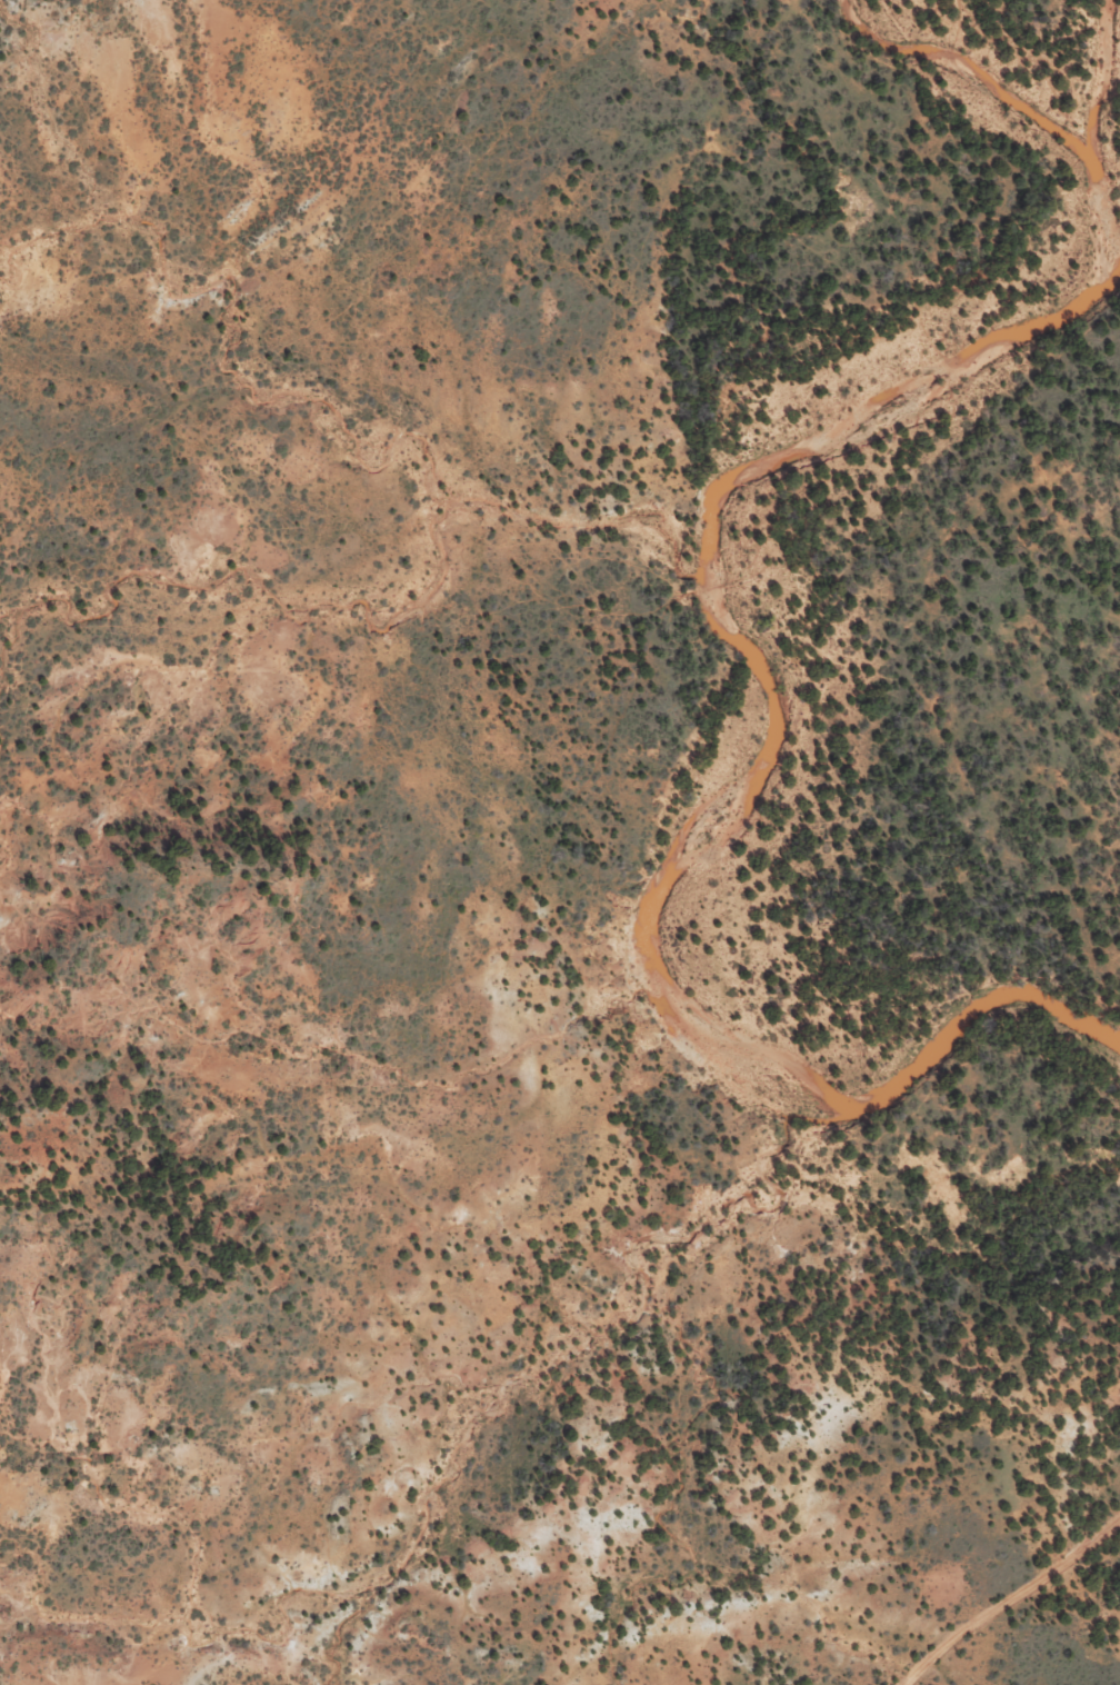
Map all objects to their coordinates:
road: (1001, 1569)

